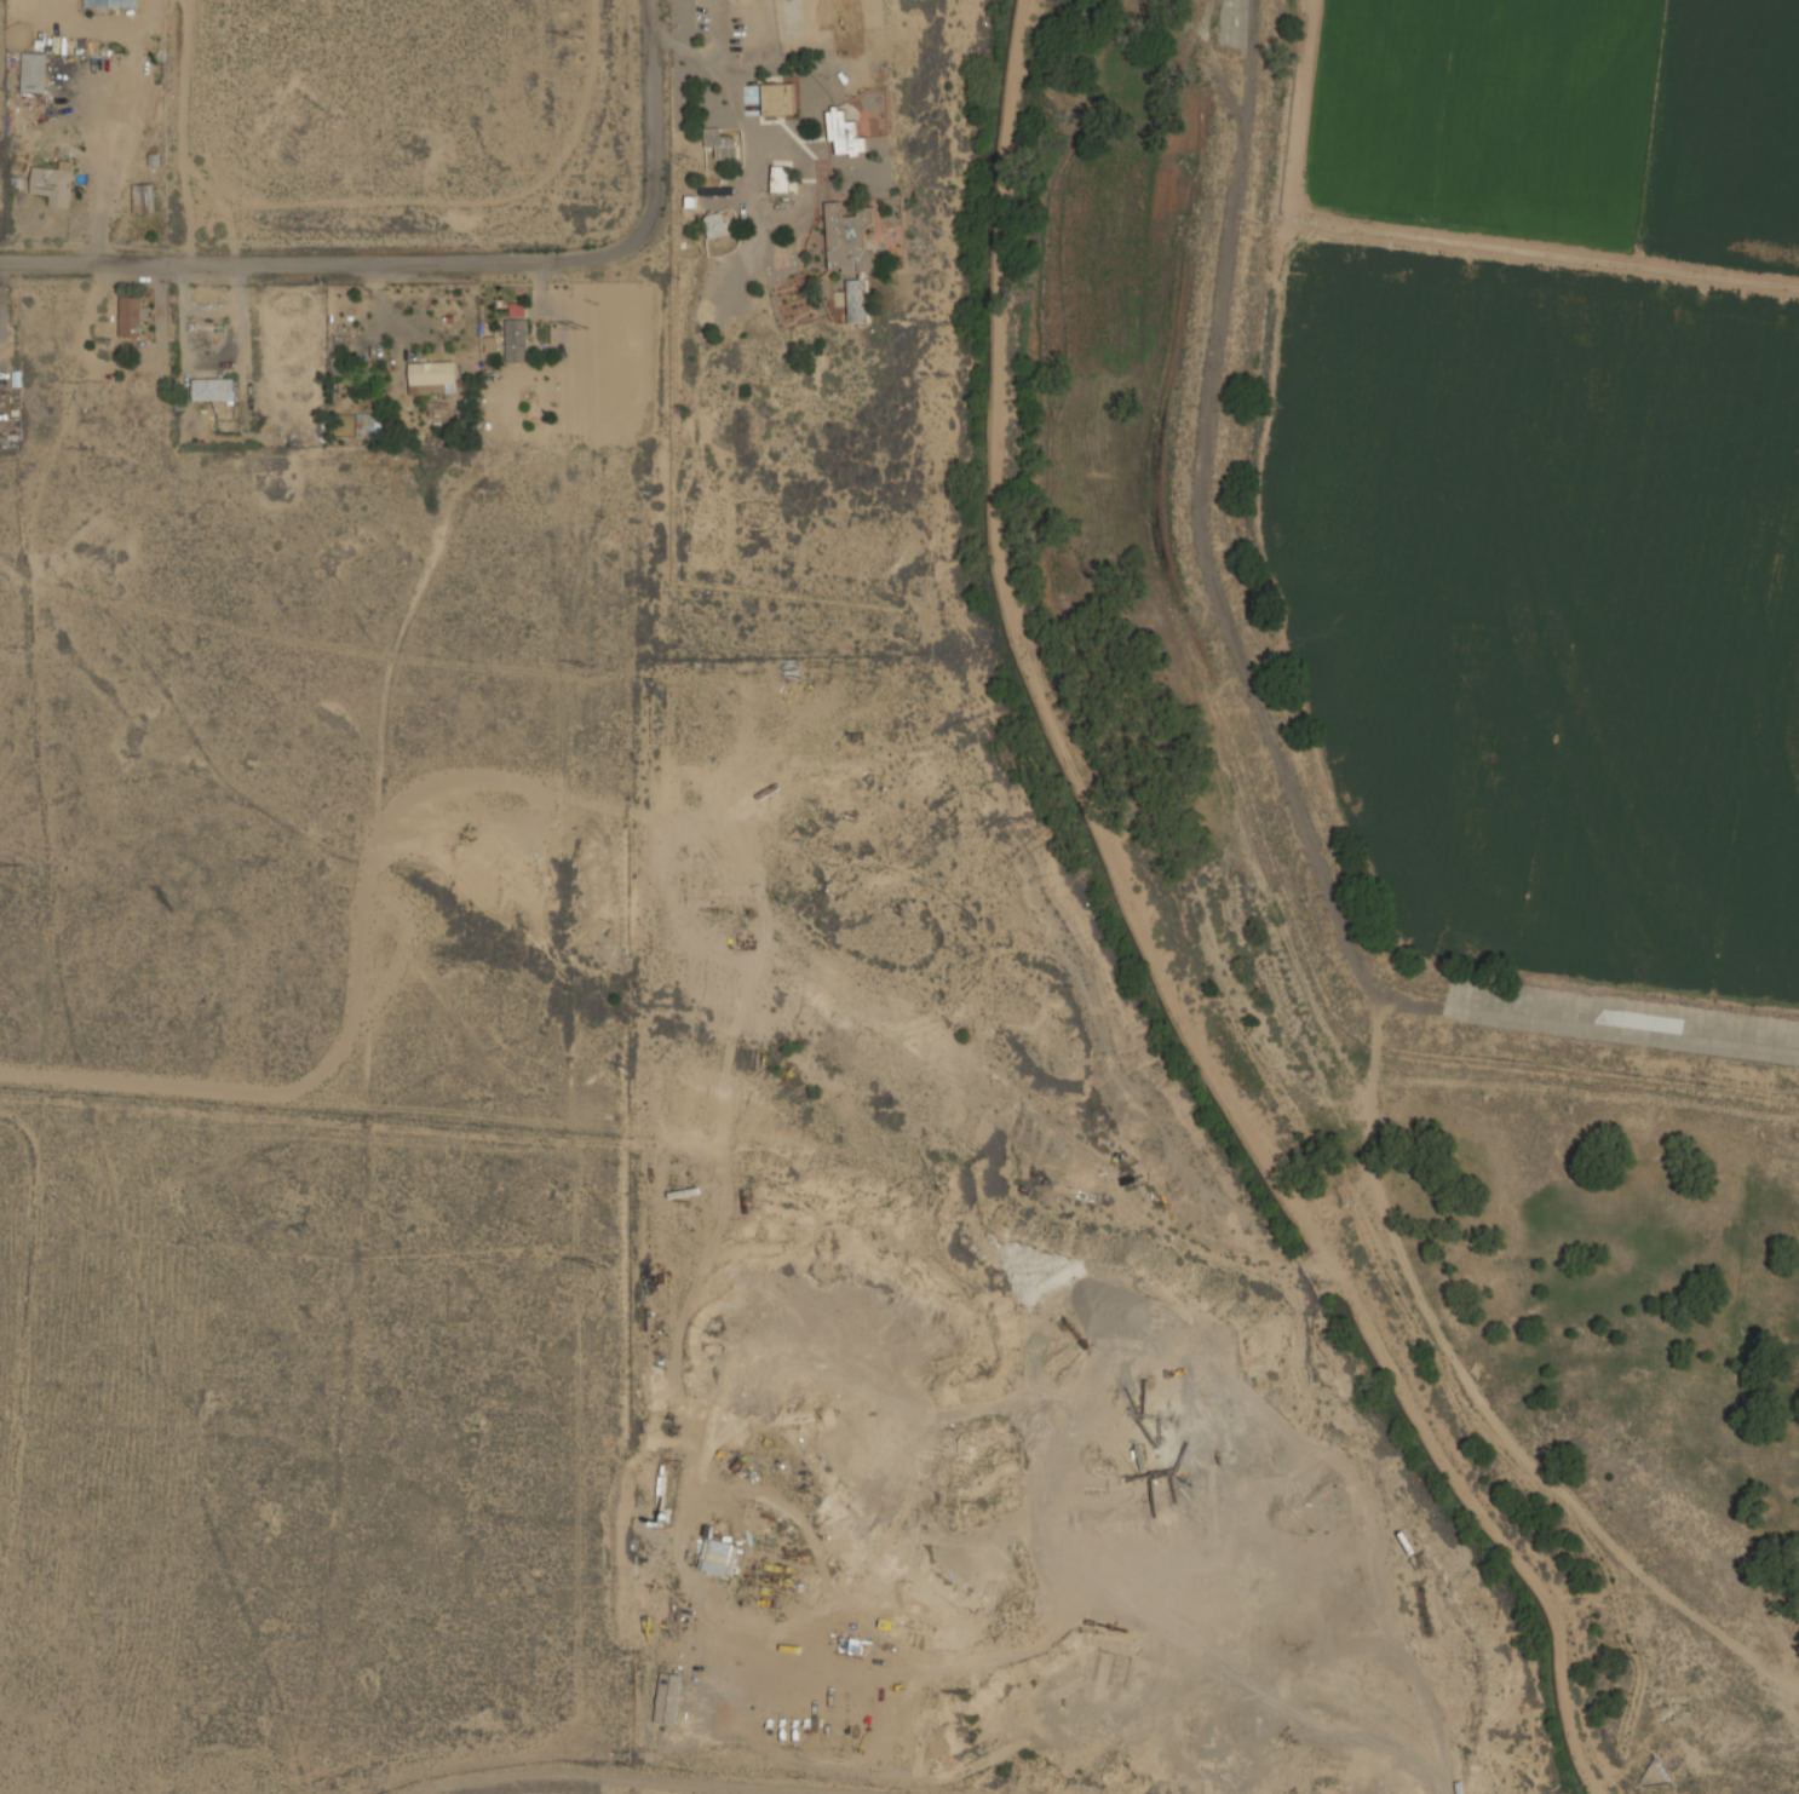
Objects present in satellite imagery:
building: (109, 2)
power tower: (574, 35)
building: (33, 71)
road: (720, 79)
building: (777, 98)
building: (844, 133)
road: (100, 168)
building: (780, 178)
building: (52, 185)
building: (142, 197)
building: (714, 223)
building: (849, 240)
road: (439, 259)
road: (1, 287)
building: (857, 300)
building: (516, 309)
building: (131, 316)
power tower: (576, 326)
building: (516, 339)
road: (209, 361)
building: (431, 378)
building: (212, 389)
building: (367, 425)
crop: (1550, 477)
power tower: (587, 665)
dam: (1251, 701)
power tower: (596, 1261)
building: (718, 1557)
building: (667, 1697)
road: (607, 1777)

